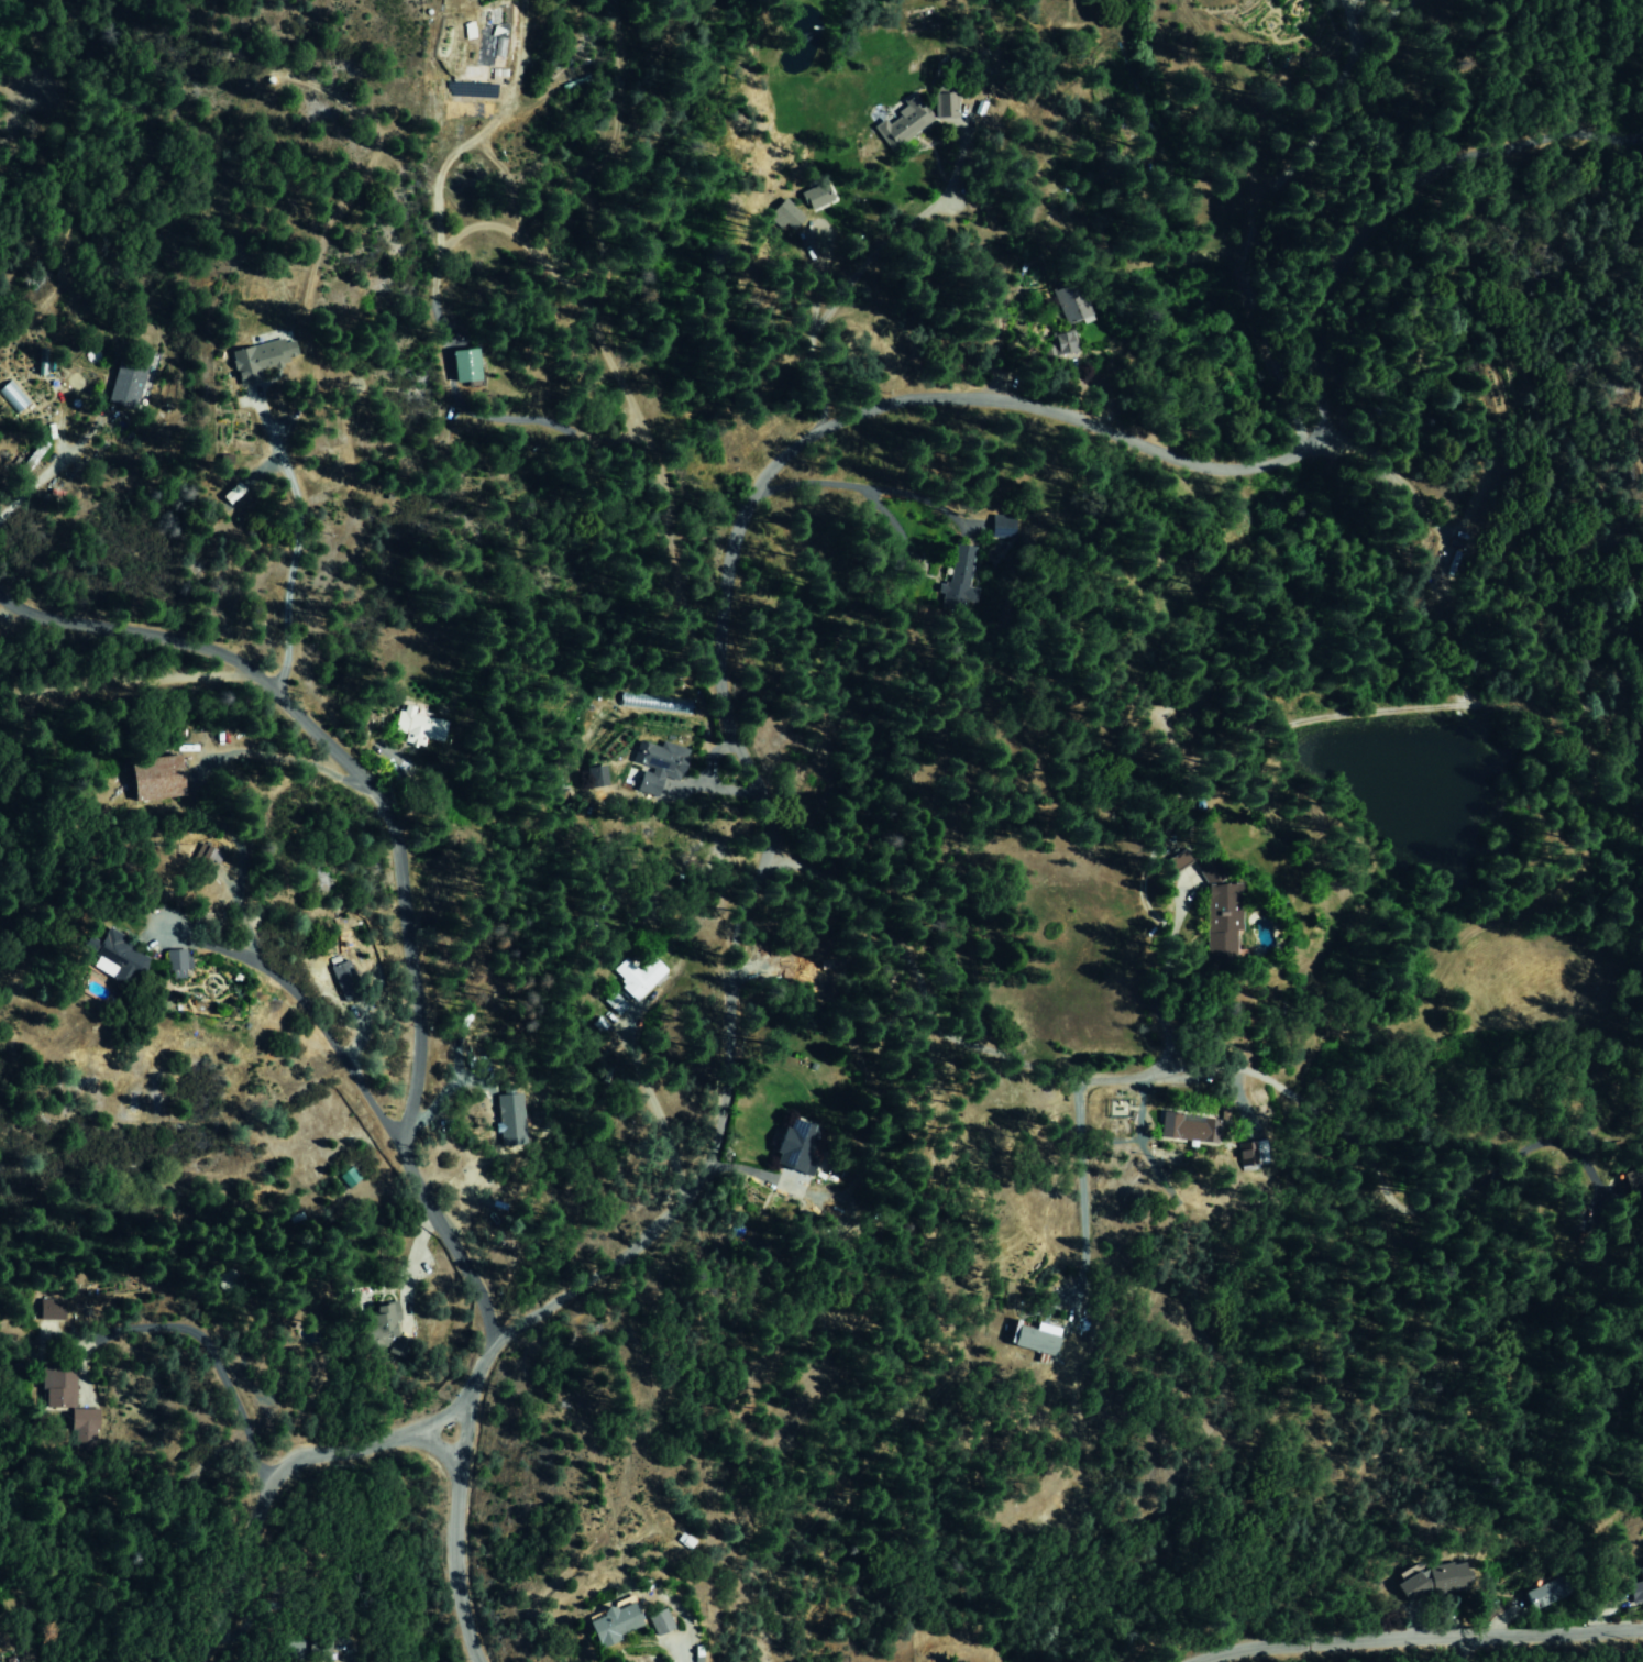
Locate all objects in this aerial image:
building: (892, 124)
building: (806, 196)
building: (778, 213)
road: (864, 264)
building: (1062, 307)
building: (1055, 341)
building: (254, 359)
road: (1253, 463)
road: (32, 485)
road: (293, 543)
building: (956, 575)
building: (419, 726)
building: (650, 764)
building: (587, 775)
building: (155, 779)
road: (389, 852)
building: (1210, 917)
building: (111, 957)
building: (174, 961)
building: (633, 976)
building: (344, 982)
road: (736, 986)
building: (609, 1001)
road: (315, 1016)
road: (941, 1023)
building: (1184, 1129)
building: (780, 1143)
road: (1077, 1186)
building: (384, 1325)
building: (1003, 1332)
building: (1030, 1339)
road: (468, 1379)
building: (55, 1388)
road: (267, 1483)
road: (448, 1551)
building: (1429, 1580)
building: (1634, 1586)
building: (650, 1619)
building: (604, 1622)
road: (1409, 1638)

